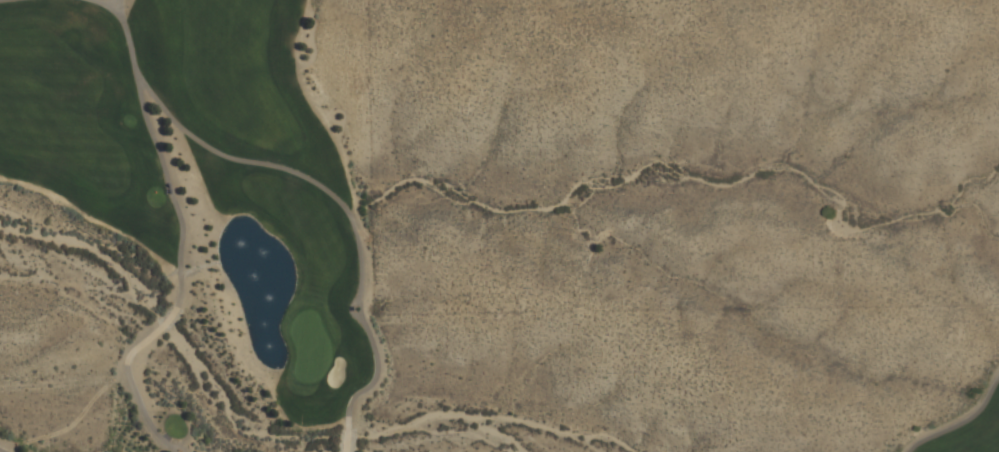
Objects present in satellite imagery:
road: (107, 5)
road: (117, 7)
road: (342, 208)
park: (205, 226)
road: (176, 246)
park: (960, 405)
road: (956, 416)
road: (4, 449)

